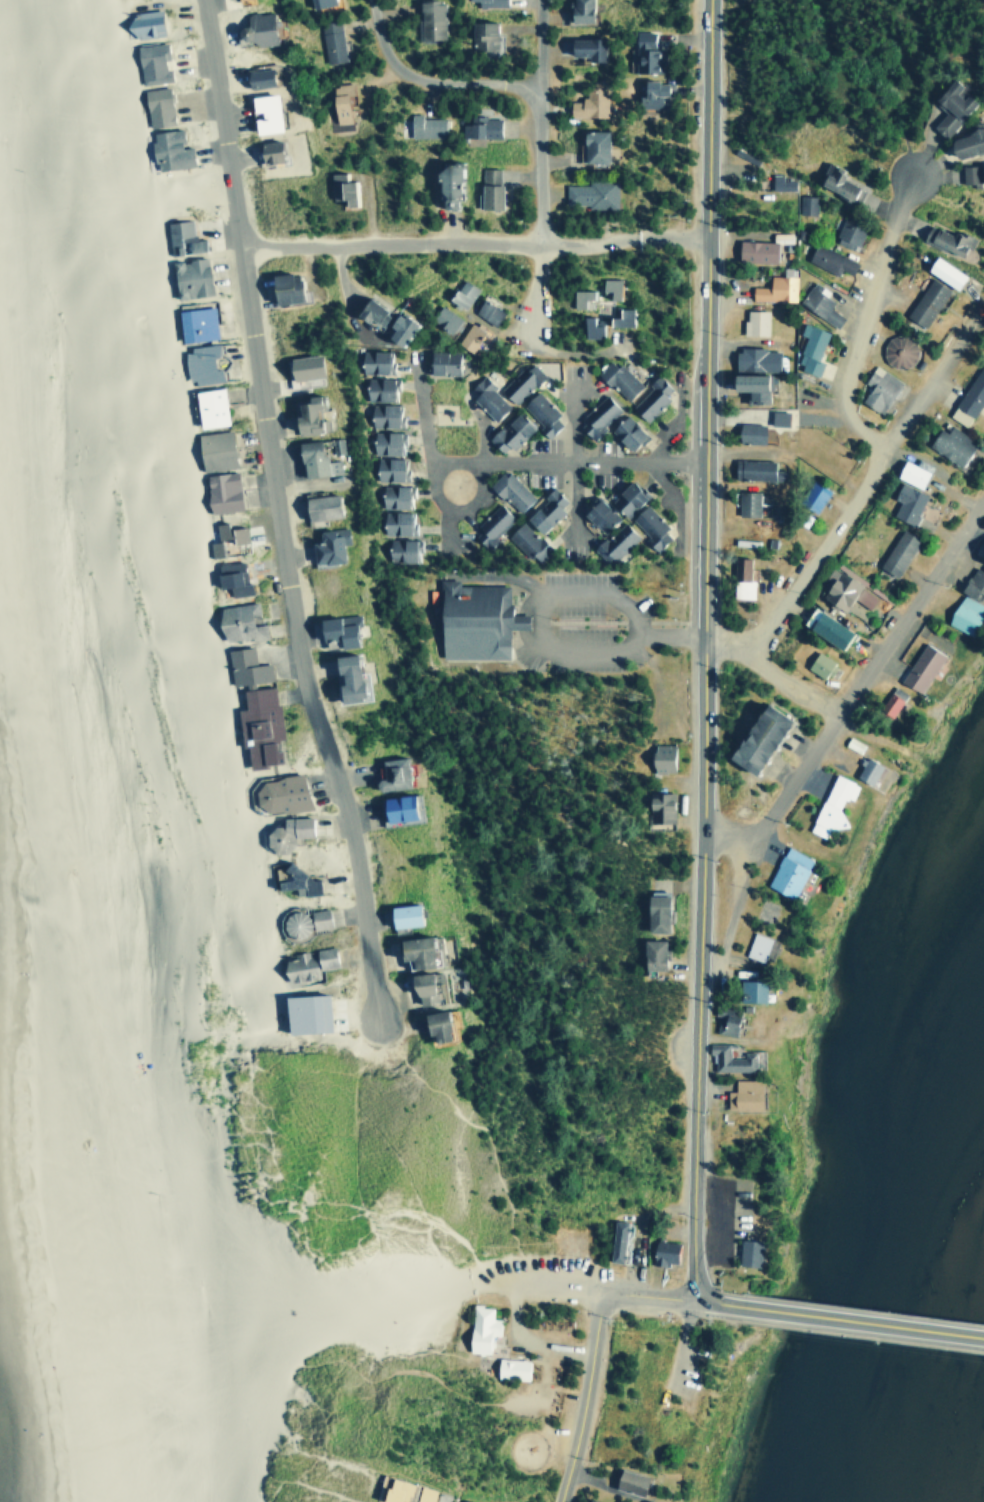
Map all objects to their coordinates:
building: (318, 2)
building: (489, 2)
building: (576, 10)
building: (428, 18)
building: (143, 23)
building: (254, 28)
building: (482, 33)
building: (331, 41)
building: (583, 47)
building: (644, 52)
building: (150, 62)
building: (255, 77)
road: (432, 77)
building: (650, 94)
building: (587, 102)
building: (155, 105)
building: (949, 105)
building: (261, 112)
building: (423, 126)
building: (479, 126)
building: (965, 141)
building: (590, 145)
building: (166, 149)
building: (269, 150)
road: (539, 167)
building: (338, 174)
building: (778, 182)
building: (836, 182)
building: (444, 184)
building: (487, 187)
building: (345, 191)
building: (589, 193)
building: (804, 204)
building: (845, 234)
building: (781, 235)
building: (181, 237)
building: (944, 238)
road: (475, 242)
road: (884, 244)
building: (754, 250)
building: (827, 259)
building: (942, 271)
building: (187, 277)
building: (281, 287)
building: (607, 287)
building: (773, 288)
building: (460, 293)
building: (581, 298)
building: (924, 302)
building: (817, 303)
building: (367, 311)
building: (486, 311)
building: (442, 317)
building: (618, 317)
building: (753, 321)
building: (194, 323)
building: (588, 326)
building: (394, 328)
building: (468, 336)
building: (809, 348)
road: (575, 350)
building: (896, 350)
building: (754, 359)
building: (376, 360)
building: (440, 361)
building: (198, 363)
building: (299, 368)
building: (616, 378)
building: (747, 386)
building: (380, 388)
building: (877, 388)
road: (849, 390)
building: (486, 398)
building: (649, 398)
building: (968, 398)
building: (207, 407)
building: (540, 413)
building: (306, 415)
building: (595, 415)
building: (777, 417)
building: (623, 431)
building: (748, 432)
building: (507, 433)
building: (387, 441)
building: (949, 444)
building: (212, 449)
building: (311, 459)
road: (572, 460)
road: (567, 464)
building: (388, 468)
building: (750, 468)
road: (429, 472)
building: (909, 473)
building: (508, 490)
building: (220, 491)
building: (811, 495)
building: (393, 496)
building: (626, 498)
building: (745, 502)
building: (905, 502)
building: (317, 506)
road: (283, 510)
building: (543, 511)
road: (843, 512)
building: (595, 513)
building: (394, 521)
building: (489, 526)
building: (648, 526)
building: (228, 532)
building: (526, 542)
building: (613, 542)
building: (325, 545)
building: (212, 548)
building: (402, 549)
building: (895, 552)
building: (739, 578)
building: (974, 579)
building: (231, 581)
building: (837, 588)
building: (862, 597)
building: (962, 613)
building: (473, 619)
building: (238, 621)
building: (336, 629)
building: (824, 629)
road: (670, 631)
road: (705, 645)
road: (585, 647)
building: (817, 663)
road: (871, 663)
building: (243, 666)
building: (919, 667)
building: (342, 677)
building: (359, 685)
road: (798, 694)
building: (889, 700)
building: (257, 725)
building: (753, 739)
building: (852, 744)
building: (660, 757)
building: (864, 770)
building: (388, 774)
building: (278, 793)
building: (830, 805)
building: (659, 807)
building: (394, 808)
building: (283, 833)
road: (737, 835)
building: (786, 872)
building: (292, 880)
building: (653, 911)
building: (400, 915)
building: (316, 918)
building: (292, 924)
building: (755, 946)
building: (412, 951)
building: (649, 954)
building: (306, 963)
building: (417, 988)
building: (748, 991)
building: (302, 1013)
building: (723, 1019)
building: (430, 1027)
building: (727, 1058)
building: (742, 1095)
river: (919, 1221)
building: (613, 1239)
building: (661, 1251)
building: (747, 1251)
parking lot: (533, 1270)
road: (510, 1282)
road: (652, 1288)
road: (207, 1291)
road: (724, 1301)
road: (867, 1320)
building: (479, 1327)
building: (510, 1367)
road: (379, 1375)
road: (583, 1399)
road: (310, 1452)
building: (627, 1480)
road: (309, 1485)
building: (386, 1488)
building: (420, 1493)
building: (460, 1500)
building: (588, 1500)

